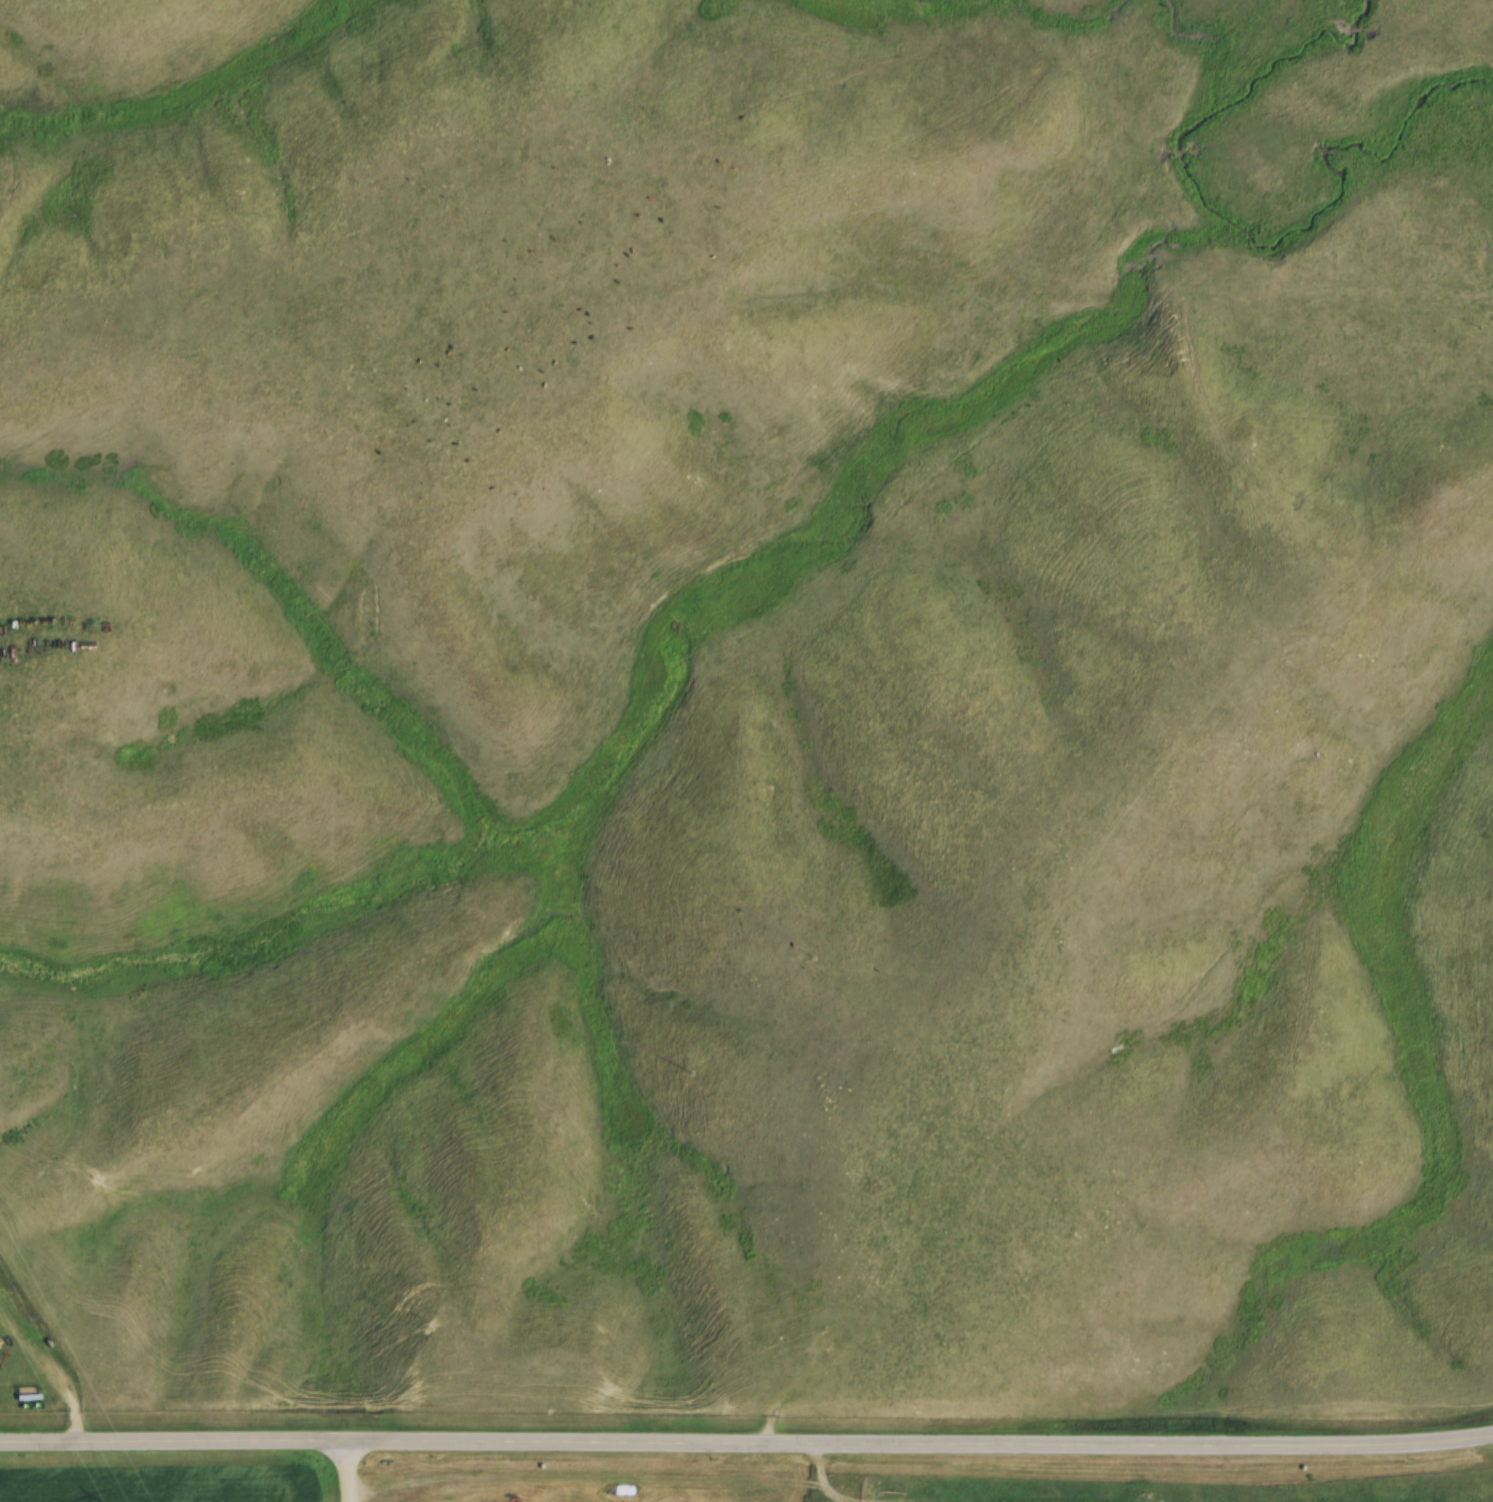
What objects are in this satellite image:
road: (746, 1447)
road: (352, 1474)
building: (482, 1492)
building: (601, 1492)

